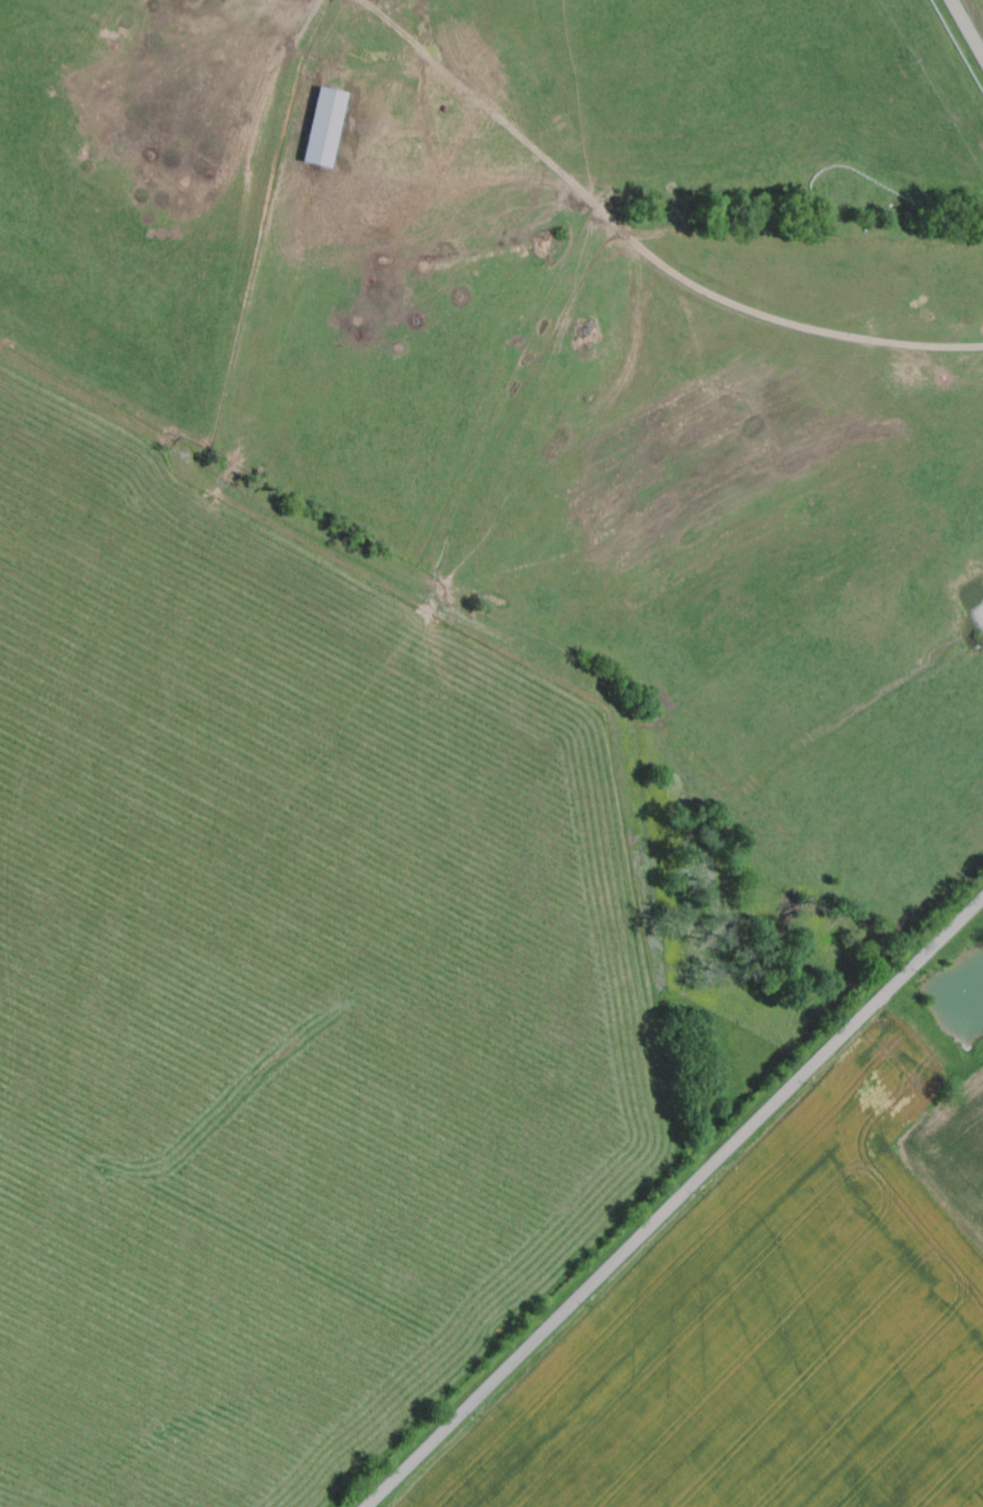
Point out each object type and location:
road: (967, 27)
building: (325, 128)
road: (675, 1204)

